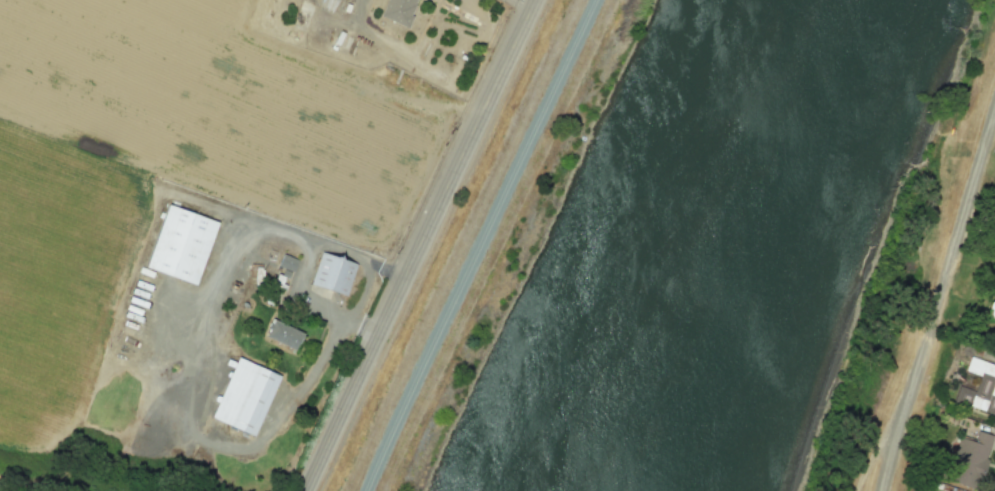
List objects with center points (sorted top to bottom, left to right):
road: (518, 4)
building: (398, 10)
road: (410, 60)
crop: (214, 104)
building: (182, 244)
river: (713, 244)
road: (418, 245)
road: (477, 245)
building: (287, 262)
crop: (53, 273)
building: (333, 273)
road: (938, 299)
road: (360, 325)
building: (283, 334)
road: (187, 384)
building: (979, 387)
building: (244, 397)
building: (969, 460)

